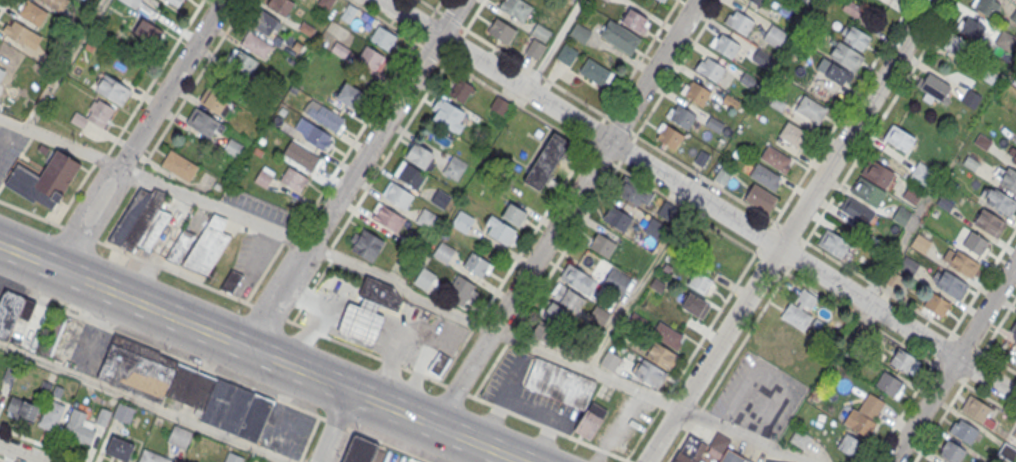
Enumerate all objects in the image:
building: (607, 0)
building: (662, 0)
building: (758, 2)
building: (800, 2)
building: (131, 3)
building: (174, 3)
building: (55, 4)
road: (437, 4)
road: (3, 5)
building: (280, 6)
building: (986, 6)
building: (516, 8)
building: (852, 9)
building: (32, 13)
building: (635, 21)
building: (740, 22)
building: (266, 23)
building: (971, 27)
building: (501, 30)
building: (579, 31)
building: (148, 32)
building: (541, 32)
building: (17, 33)
building: (619, 35)
building: (775, 35)
building: (855, 36)
building: (383, 38)
road: (553, 44)
building: (958, 44)
building: (256, 45)
building: (724, 45)
building: (535, 48)
building: (566, 53)
building: (846, 55)
building: (761, 57)
road: (512, 58)
road: (640, 58)
building: (371, 59)
road: (64, 64)
building: (241, 64)
road: (677, 67)
building: (710, 69)
building: (595, 73)
building: (986, 74)
building: (2, 75)
building: (1015, 81)
road: (483, 83)
building: (934, 86)
road: (148, 87)
road: (191, 87)
building: (112, 90)
building: (460, 92)
building: (695, 92)
building: (349, 95)
building: (970, 97)
building: (216, 98)
building: (499, 106)
building: (810, 107)
road: (843, 111)
building: (94, 115)
building: (680, 116)
building: (327, 117)
building: (448, 117)
road: (879, 120)
building: (203, 123)
road: (140, 133)
building: (794, 134)
building: (669, 135)
building: (899, 138)
building: (319, 139)
building: (982, 141)
parking lot: (10, 147)
building: (301, 155)
building: (418, 155)
road: (342, 159)
building: (775, 159)
building: (1014, 159)
road: (383, 160)
building: (546, 161)
building: (969, 162)
building: (179, 165)
building: (454, 167)
building: (410, 173)
building: (877, 173)
road: (355, 174)
building: (922, 174)
building: (723, 175)
building: (765, 176)
building: (264, 178)
road: (705, 178)
building: (44, 179)
building: (1008, 179)
building: (293, 180)
building: (868, 191)
building: (397, 193)
building: (636, 194)
building: (912, 194)
road: (699, 196)
building: (439, 198)
building: (760, 198)
building: (1001, 202)
building: (944, 203)
building: (666, 211)
building: (857, 211)
road: (564, 212)
building: (513, 213)
building: (387, 218)
building: (427, 219)
building: (617, 219)
building: (141, 221)
building: (462, 221)
building: (989, 222)
building: (499, 228)
building: (654, 228)
road: (788, 231)
building: (601, 243)
building: (920, 243)
building: (975, 243)
building: (834, 244)
building: (208, 245)
building: (366, 246)
building: (182, 247)
building: (444, 253)
parking lot: (253, 260)
building: (960, 262)
building: (908, 264)
building: (477, 265)
road: (554, 265)
road: (862, 277)
building: (577, 279)
building: (618, 279)
building: (424, 280)
building: (231, 281)
building: (700, 282)
building: (949, 284)
parking lot: (11, 287)
road: (408, 287)
building: (381, 291)
building: (461, 292)
road: (24, 294)
building: (567, 298)
building: (936, 304)
building: (695, 305)
building: (803, 305)
gas station: (361, 310)
building: (13, 312)
building: (599, 315)
building: (360, 320)
building: (549, 323)
road: (999, 325)
road: (314, 334)
building: (1012, 334)
building: (668, 335)
building: (567, 344)
road: (943, 344)
road: (260, 352)
road: (983, 352)
building: (661, 356)
building: (903, 360)
road: (953, 360)
building: (610, 362)
building: (438, 365)
building: (649, 374)
road: (237, 383)
building: (560, 383)
building: (889, 384)
building: (184, 387)
building: (0, 393)
parking lot: (527, 393)
parking lot: (758, 396)
road: (142, 403)
building: (22, 408)
building: (976, 411)
building: (123, 412)
building: (51, 416)
building: (102, 416)
building: (589, 422)
building: (859, 422)
building: (79, 426)
road: (333, 427)
building: (964, 431)
building: (1014, 431)
building: (179, 436)
building: (800, 438)
building: (849, 445)
road: (345, 446)
building: (119, 448)
building: (361, 450)
building: (701, 450)
building: (951, 451)
road: (22, 453)
building: (151, 457)
building: (233, 457)
building: (732, 457)
gas station: (775, 458)
road: (4, 460)
building: (769, 461)
building: (932, 461)

